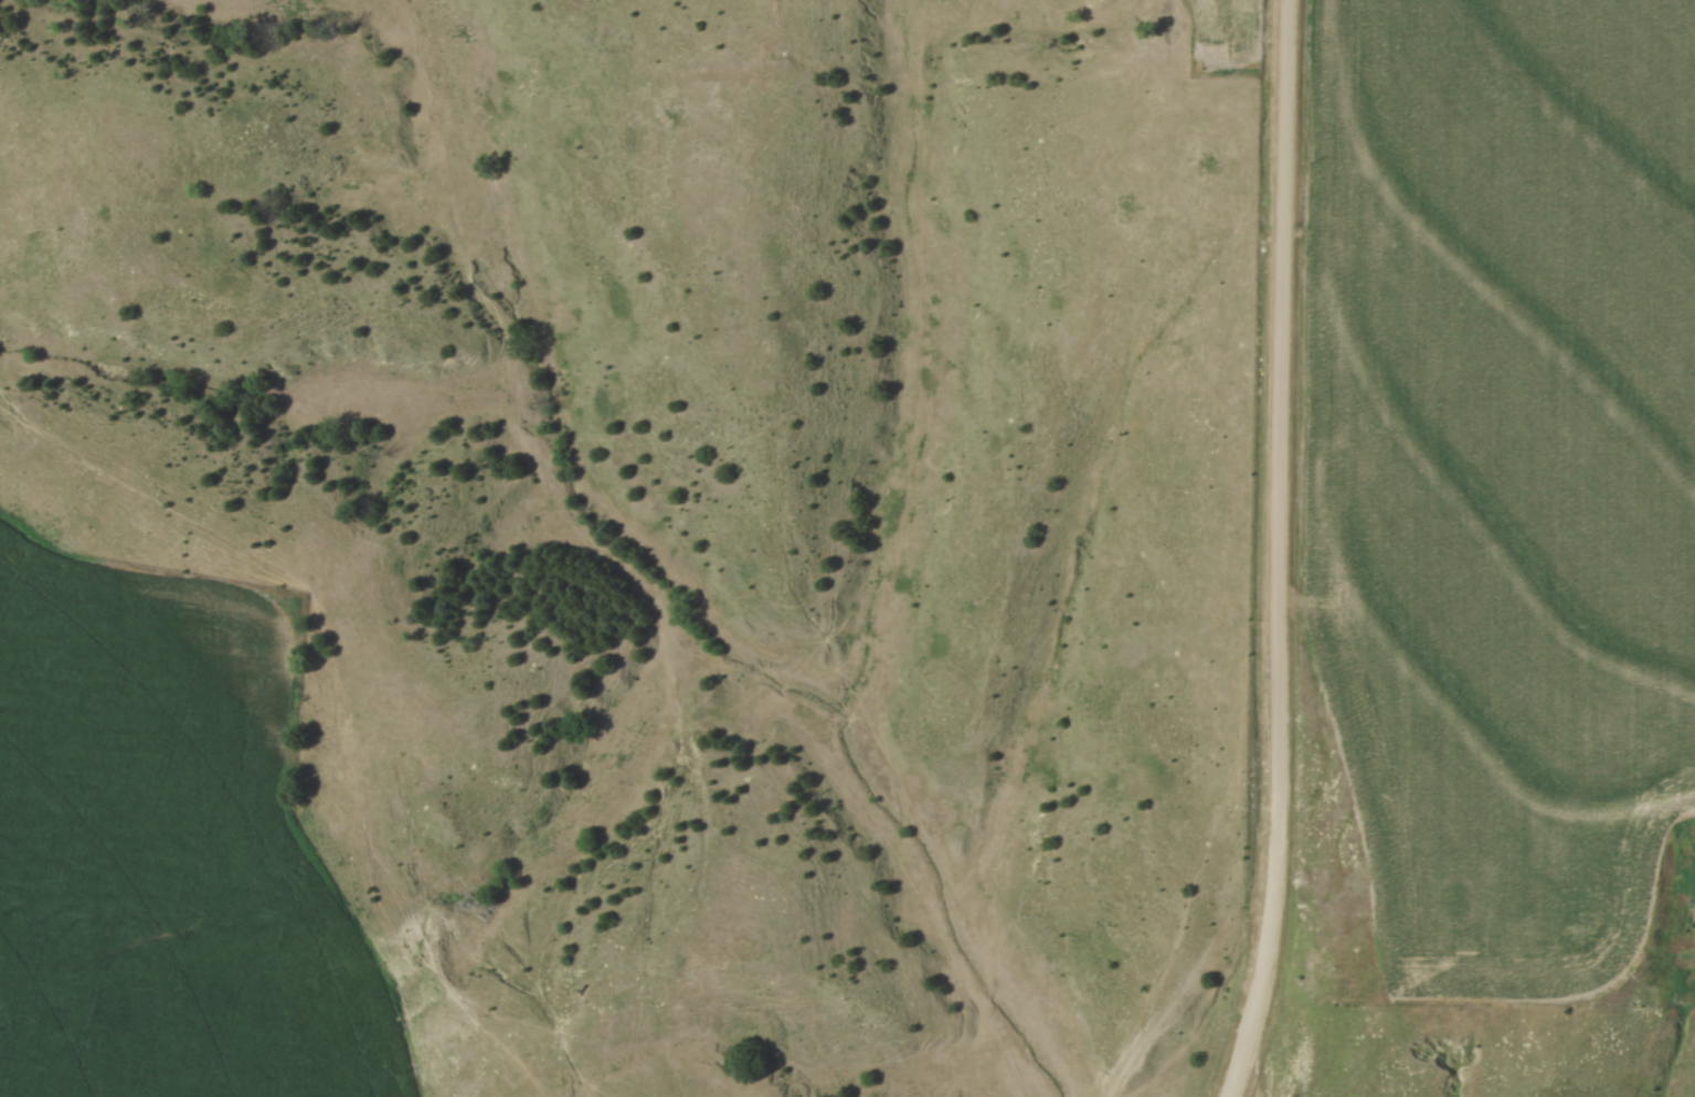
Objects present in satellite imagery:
road: (1276, 551)

